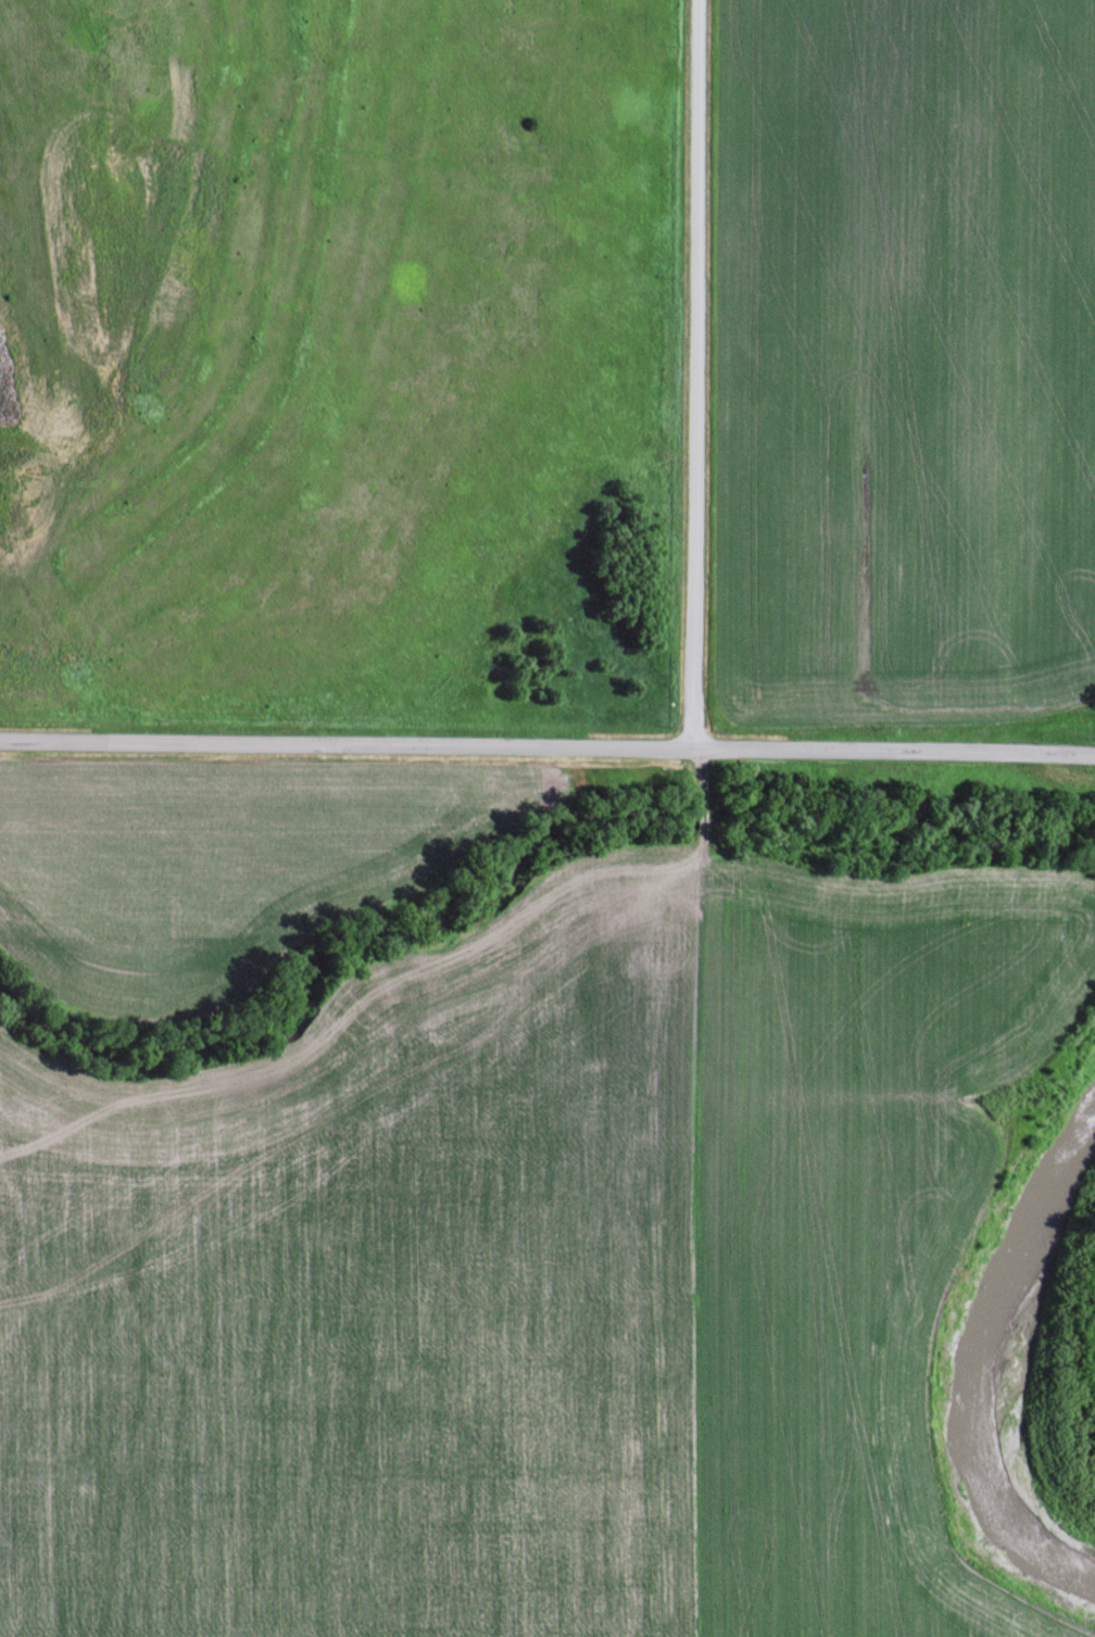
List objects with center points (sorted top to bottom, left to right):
road: (700, 382)
road: (546, 763)
river: (1000, 1359)

